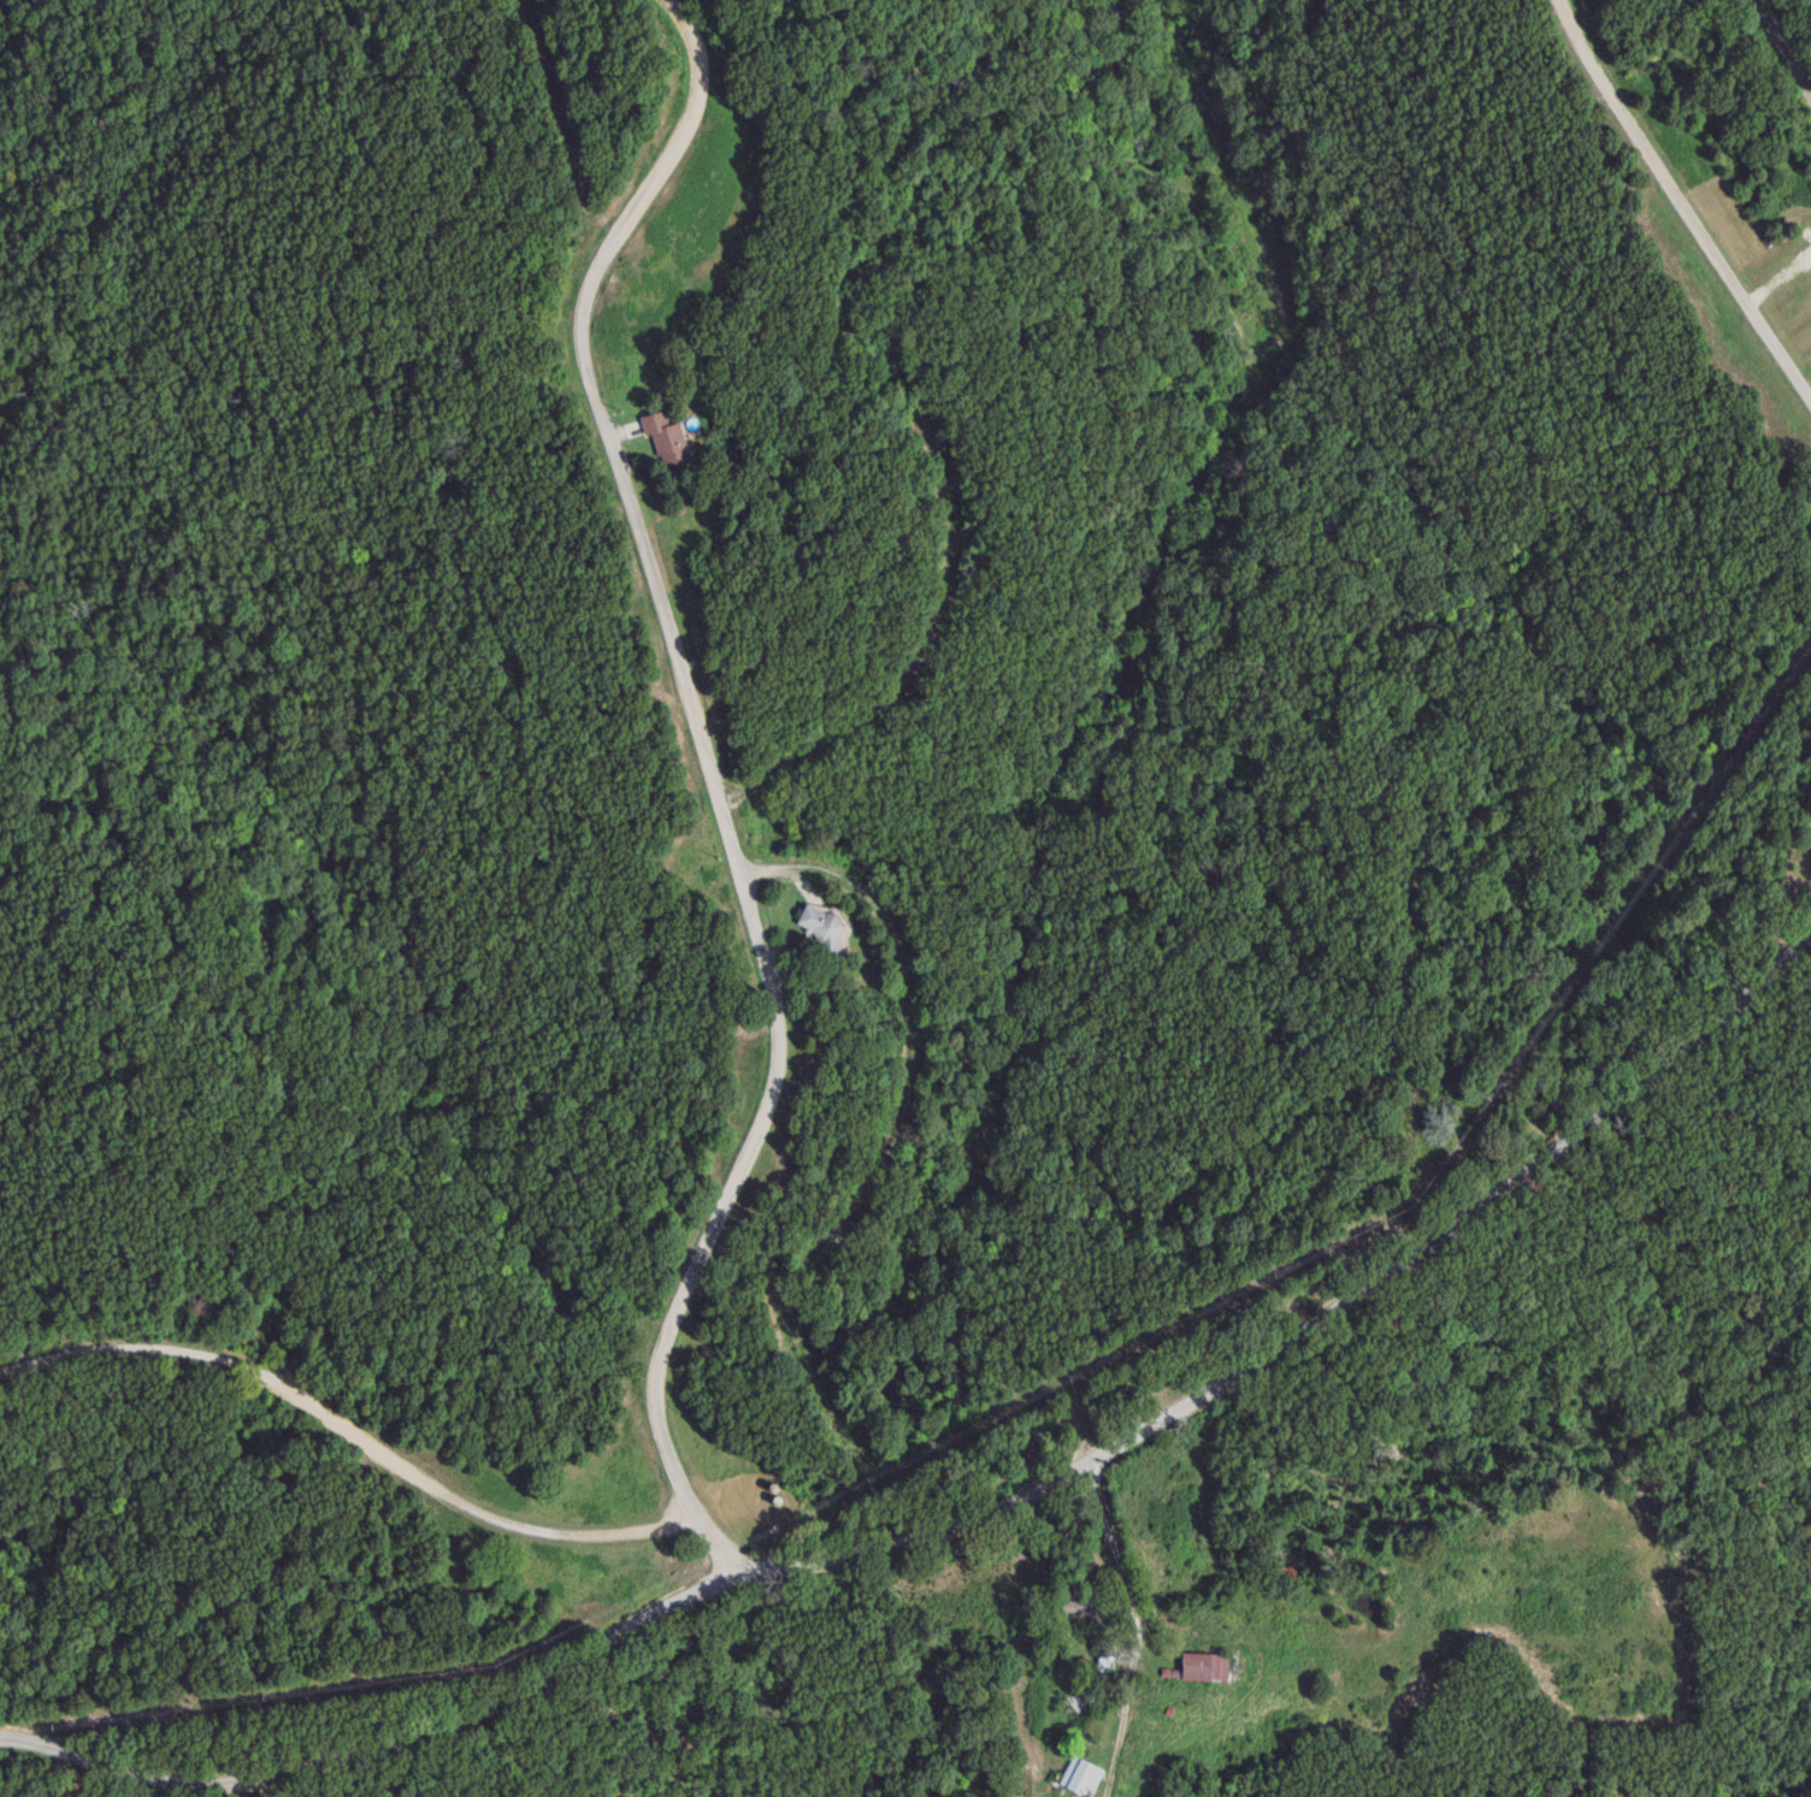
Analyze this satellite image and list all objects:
road: (1786, 47)
road: (979, 185)
road: (1681, 201)
building: (669, 438)
road: (659, 616)
road: (837, 881)
building: (826, 924)
road: (910, 1027)
road: (836, 1229)
road: (649, 1379)
road: (350, 1418)
road: (968, 1517)
road: (708, 1547)
road: (1129, 1628)
building: (1202, 1666)
building: (1084, 1775)

